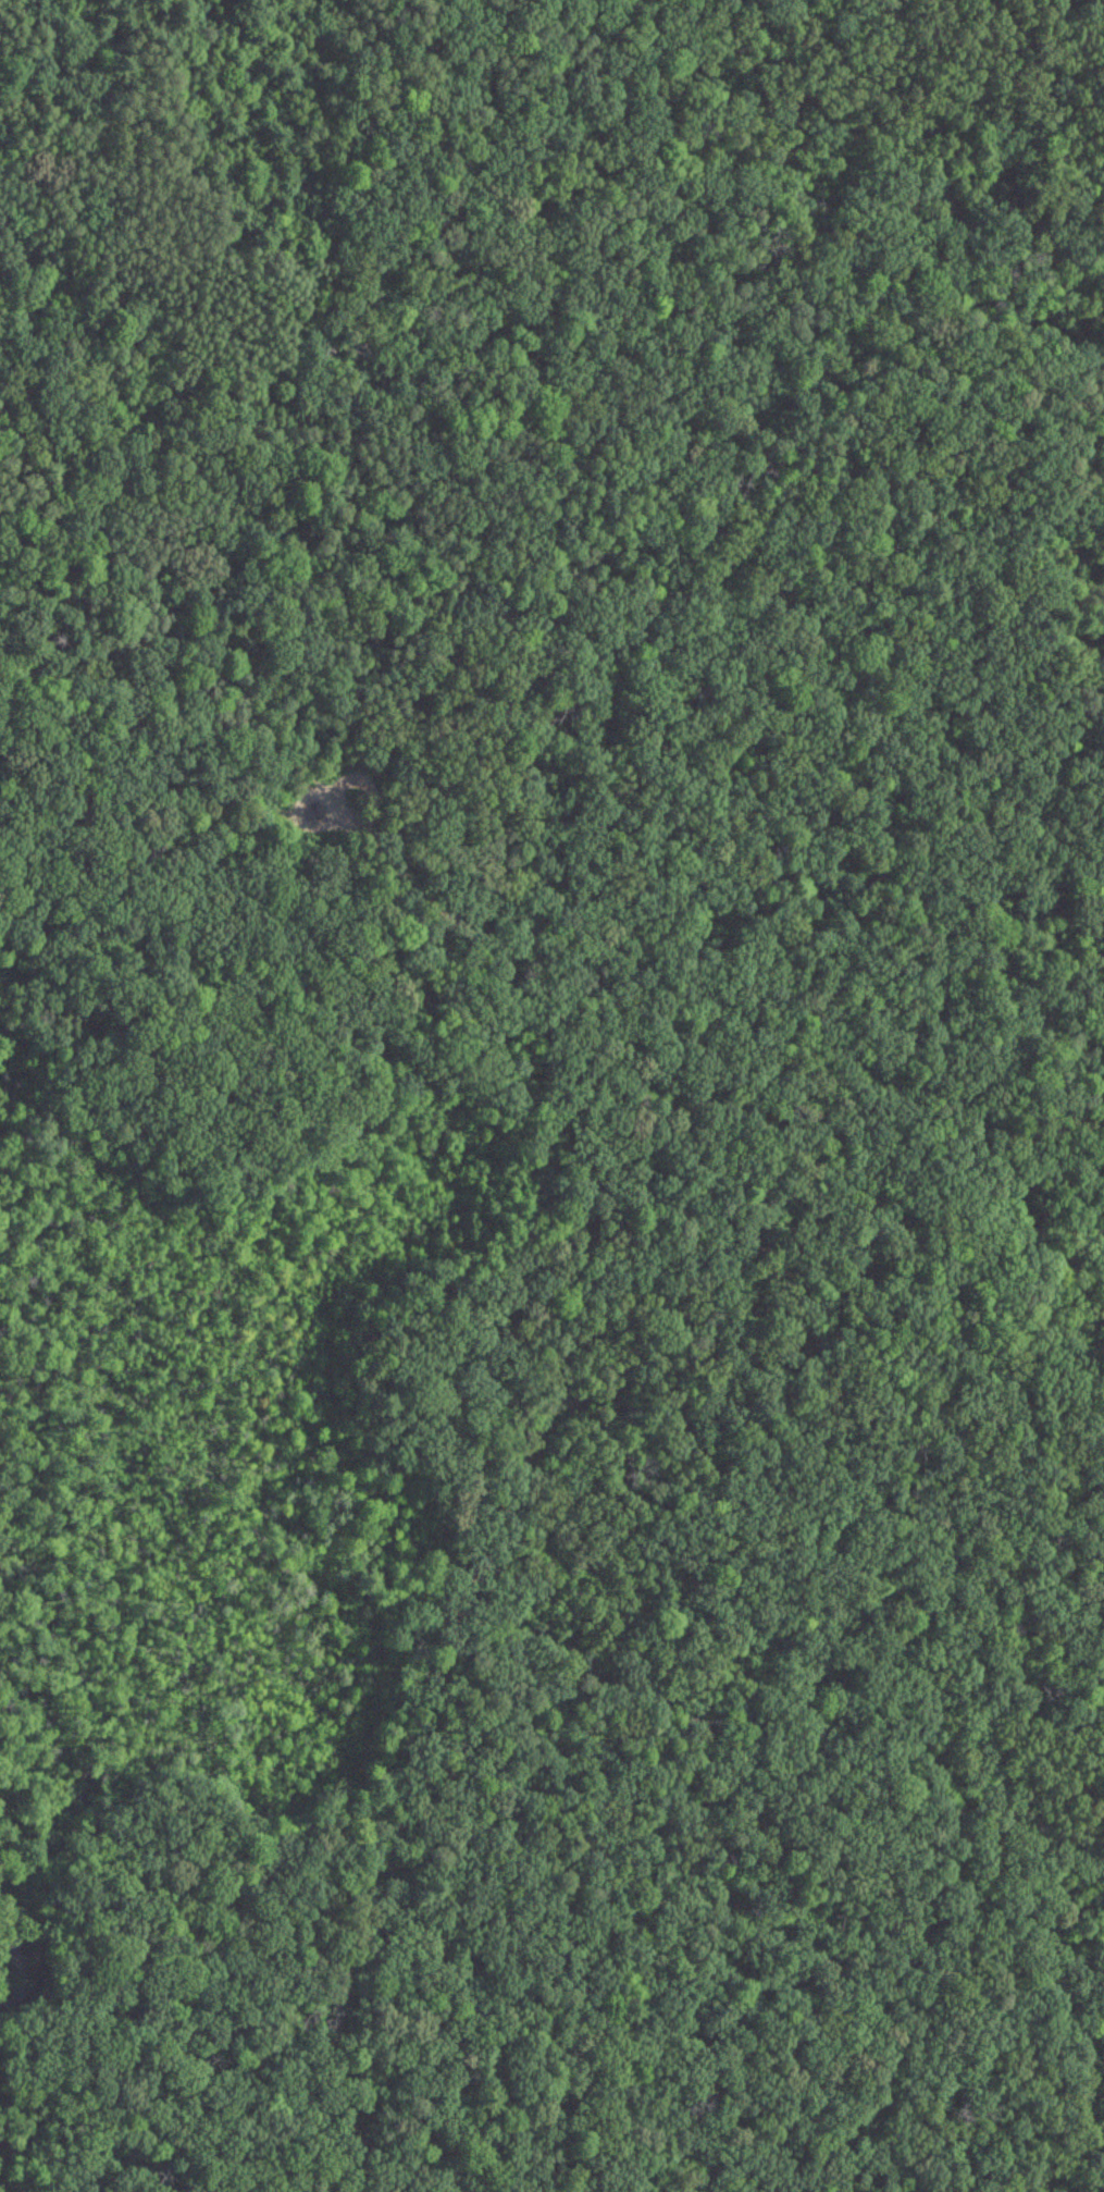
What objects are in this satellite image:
road: (3, 5)
road: (9, 543)
road: (553, 1229)
road: (418, 1441)

